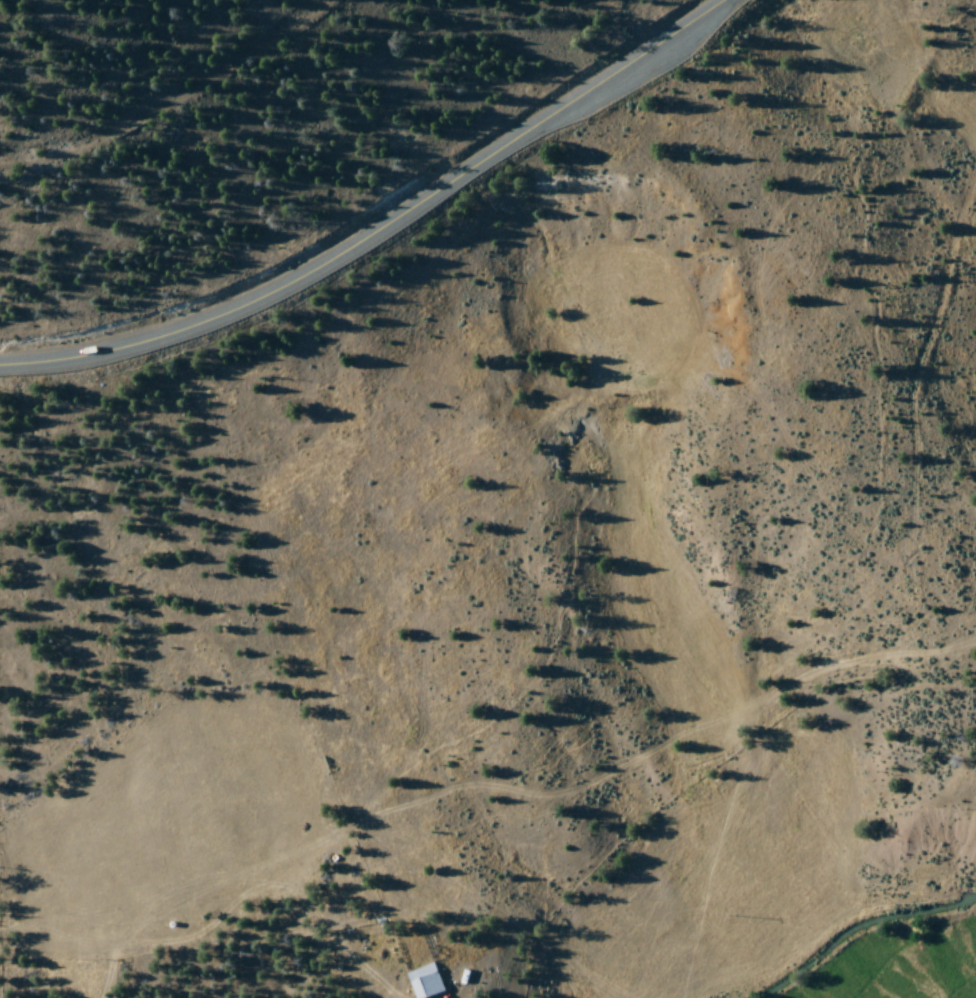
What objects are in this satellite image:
road: (390, 231)
building: (425, 982)

